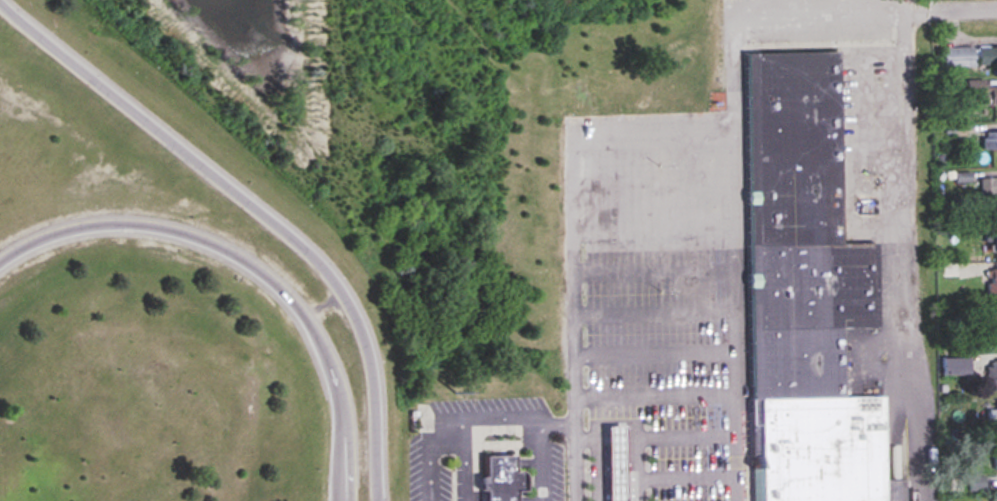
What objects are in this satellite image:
road: (761, 14)
road: (950, 14)
building: (968, 56)
building: (979, 93)
road: (651, 125)
building: (988, 140)
building: (986, 187)
road: (651, 188)
road: (258, 210)
road: (653, 229)
building: (992, 238)
road: (912, 257)
road: (251, 262)
road: (654, 273)
building: (991, 281)
building: (801, 292)
road: (654, 312)
building: (989, 324)
road: (655, 354)
building: (951, 365)
building: (990, 375)
road: (656, 394)
road: (479, 416)
building: (991, 416)
road: (685, 436)
road: (429, 450)
road: (635, 461)
building: (994, 461)
road: (541, 462)
building: (610, 463)
road: (686, 478)
building: (500, 479)

